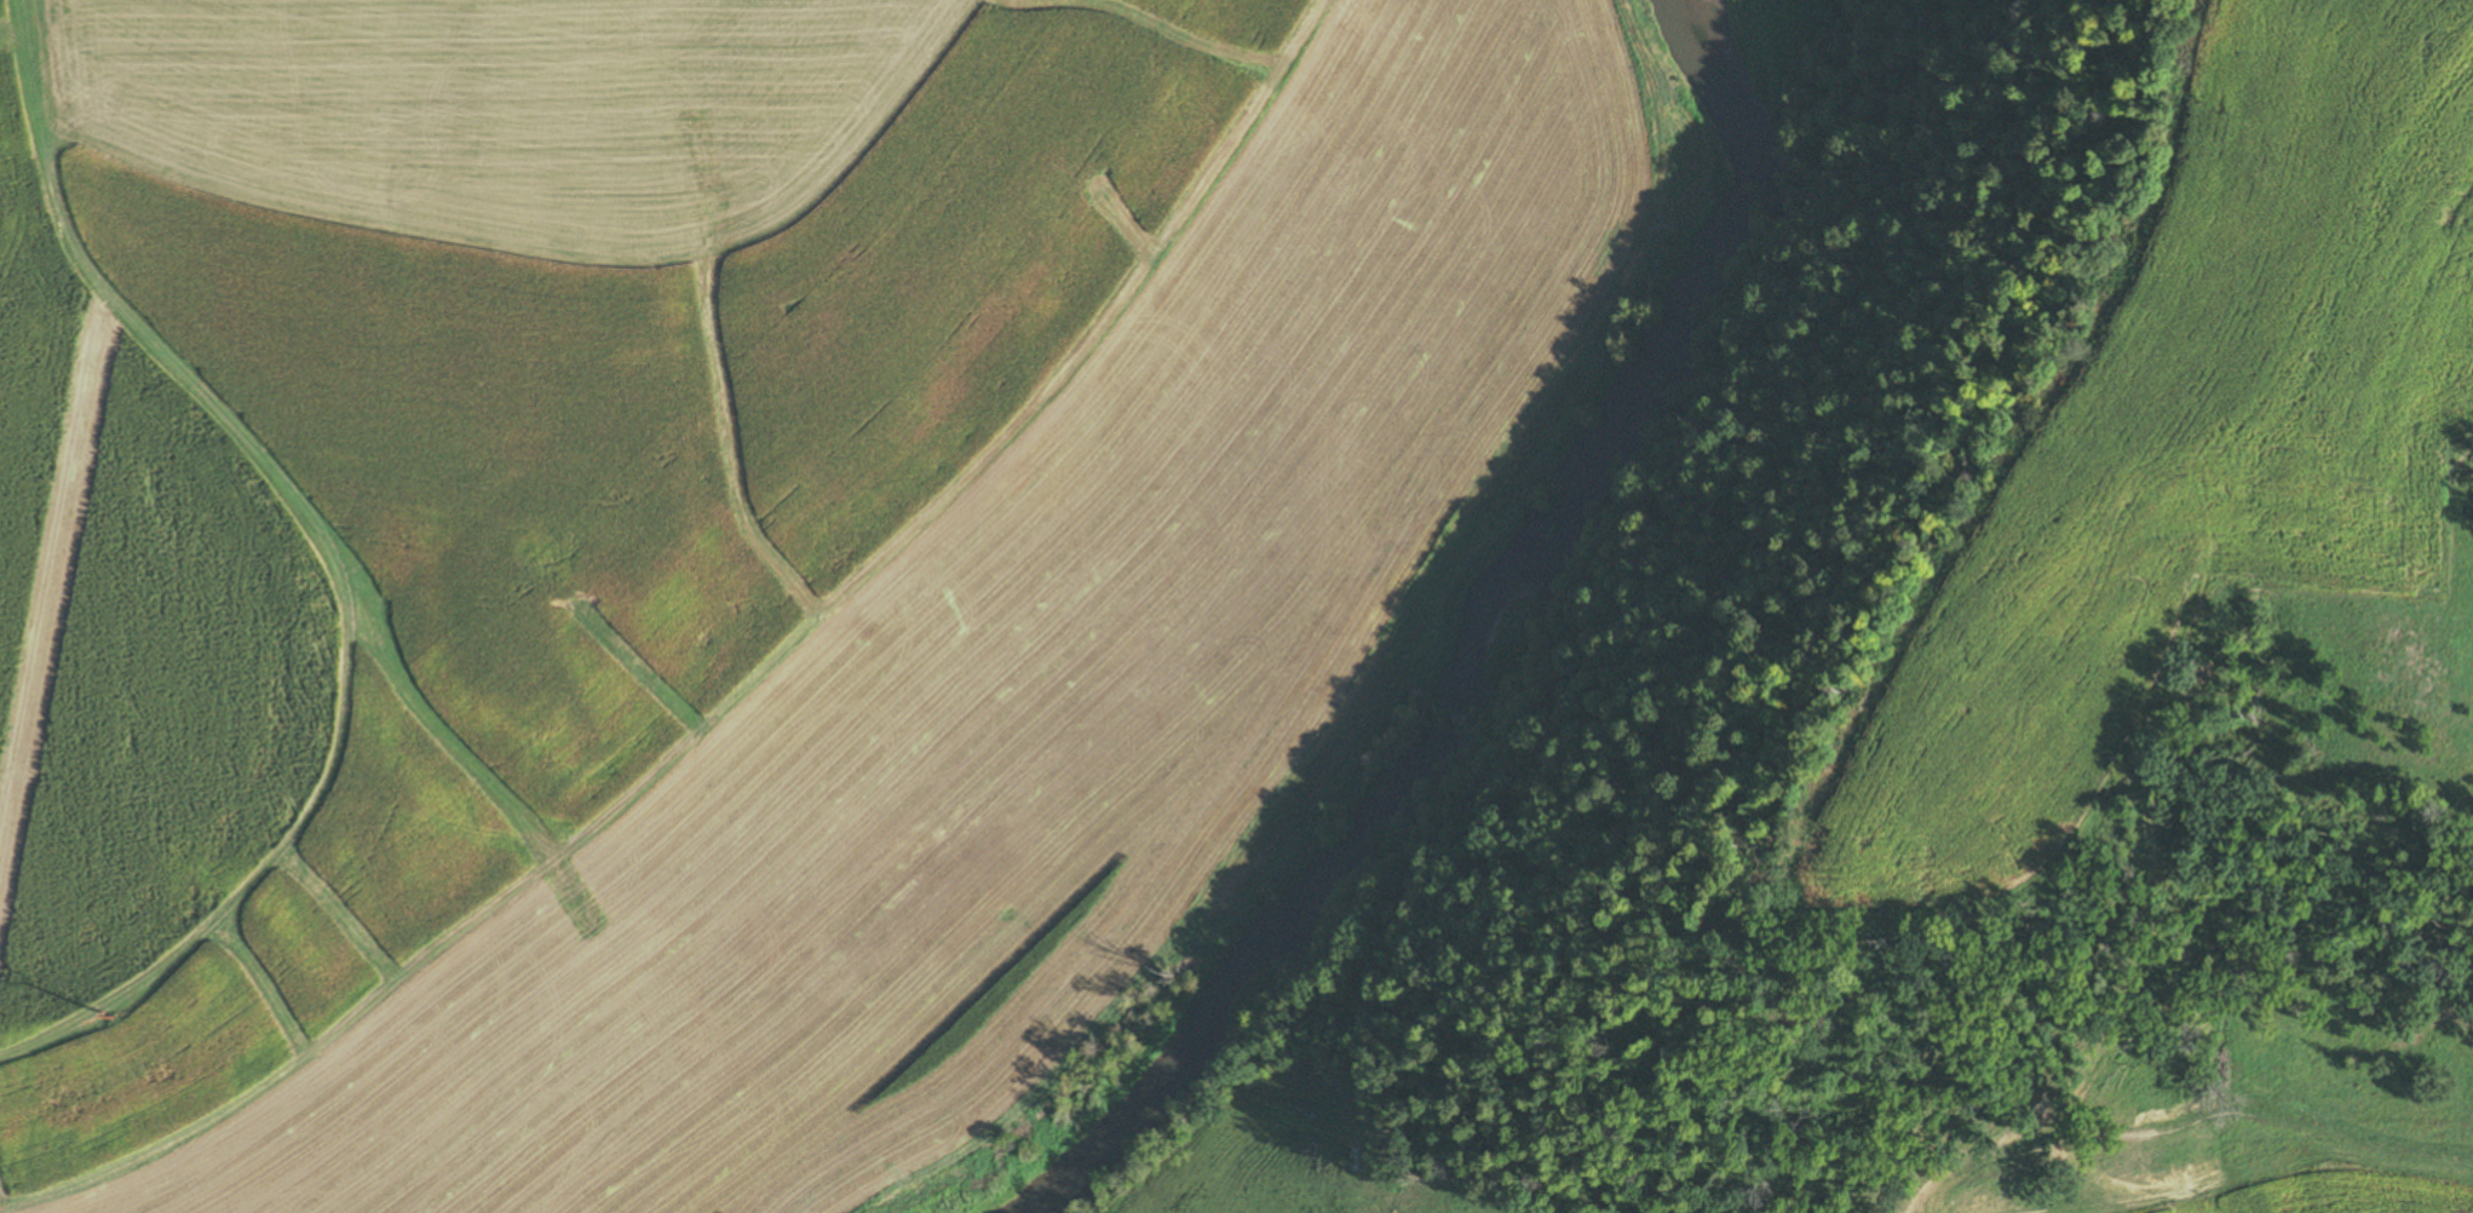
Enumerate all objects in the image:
river: (1470, 688)
power tower: (104, 1021)

